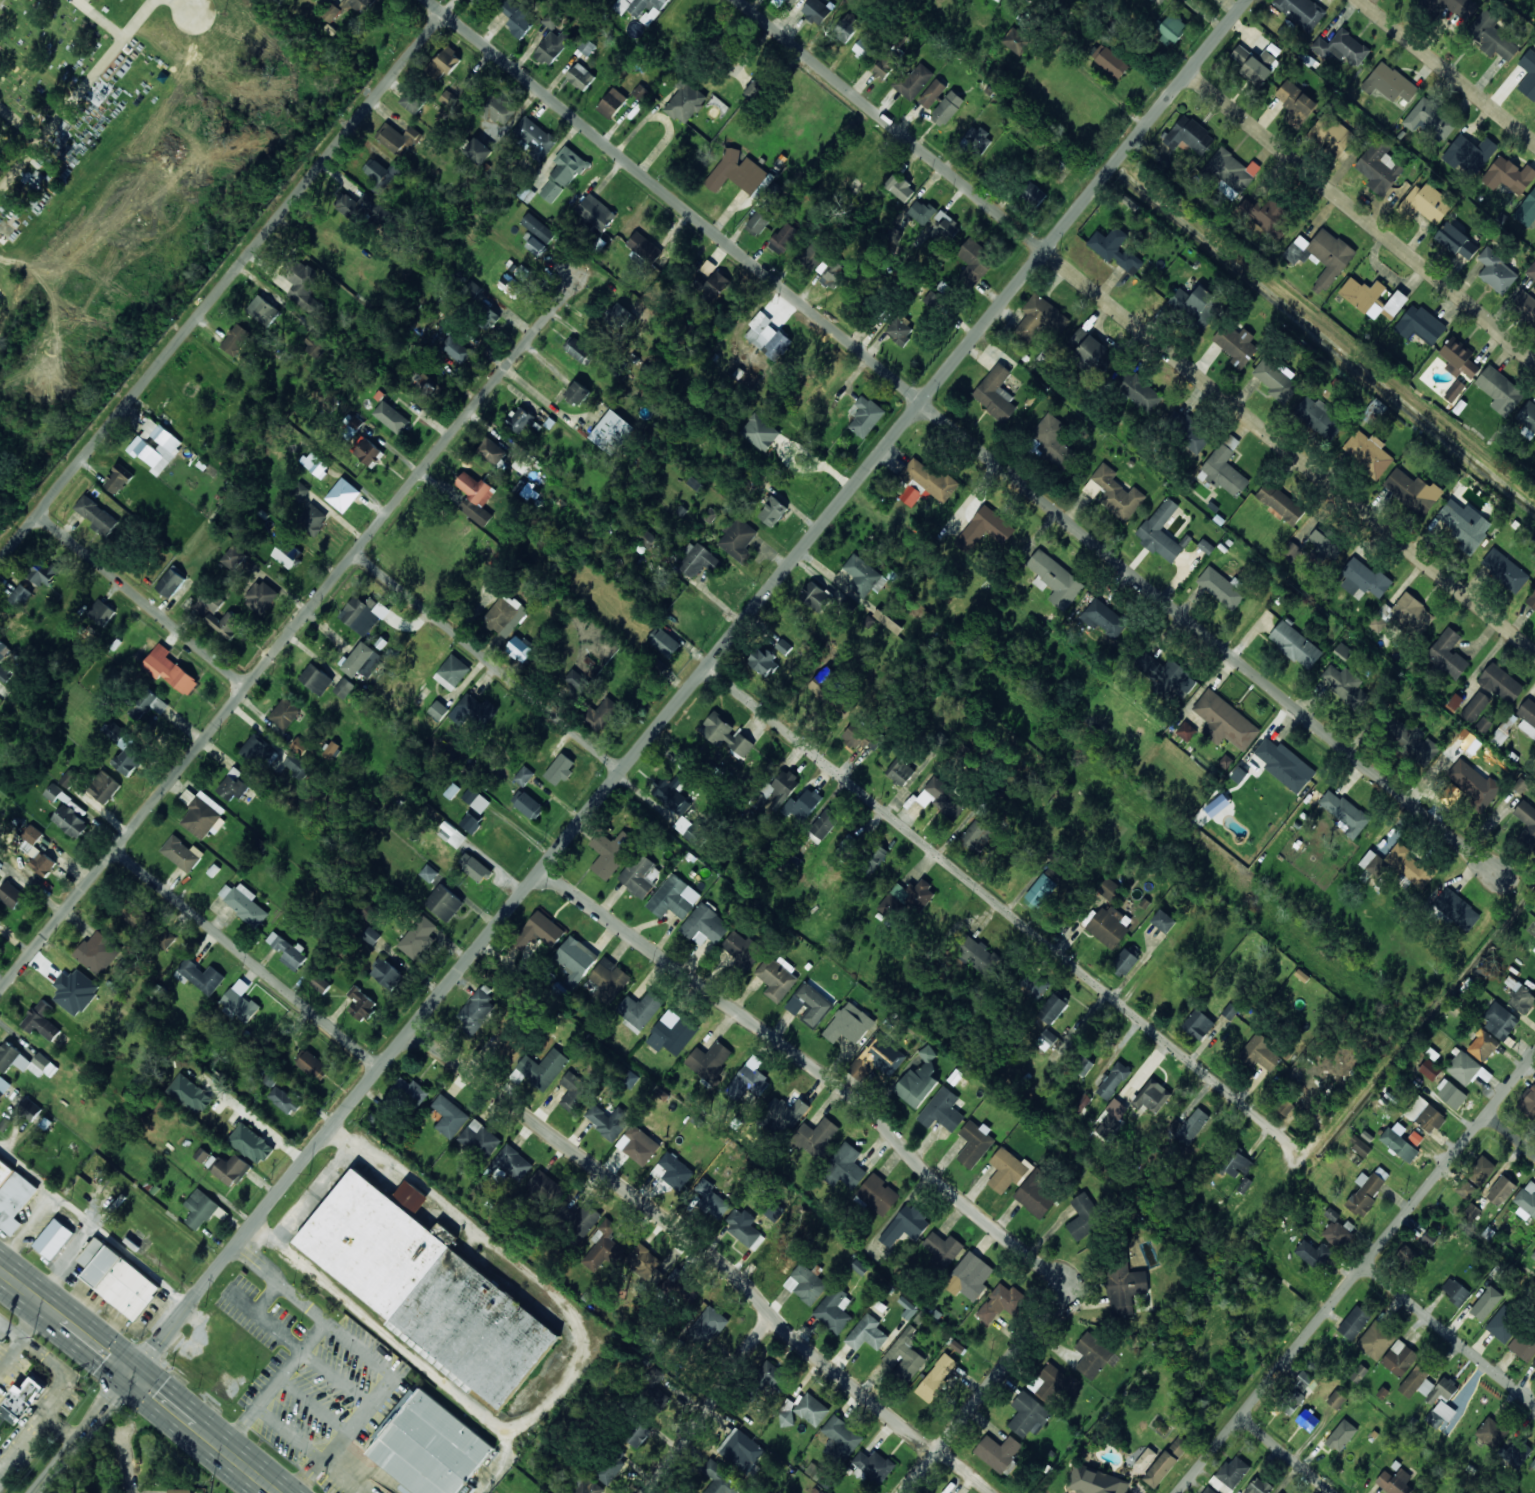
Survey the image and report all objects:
building: (998, 0)
building: (1150, 0)
road: (190, 1)
building: (282, 1)
building: (793, 1)
building: (361, 5)
building: (1452, 6)
building: (641, 8)
building: (816, 11)
building: (331, 12)
building: (1302, 12)
building: (517, 18)
road: (100, 19)
building: (552, 19)
building: (845, 28)
building: (1171, 30)
building: (1492, 36)
building: (1018, 44)
park: (140, 46)
building: (553, 47)
building: (587, 47)
building: (863, 48)
building: (1342, 48)
building: (1109, 60)
building: (445, 64)
building: (887, 64)
building: (1256, 65)
road: (1446, 70)
building: (1528, 74)
building: (581, 77)
building: (913, 81)
building: (1389, 83)
building: (755, 90)
building: (640, 92)
building: (933, 93)
road: (77, 94)
building: (1296, 100)
building: (414, 101)
building: (685, 102)
building: (612, 103)
building: (495, 107)
building: (947, 108)
building: (1430, 119)
road: (19, 125)
building: (1331, 133)
building: (1189, 135)
building: (535, 138)
building: (398, 139)
building: (979, 139)
building: (478, 151)
building: (1470, 155)
park: (52, 161)
building: (1379, 167)
building: (737, 172)
building: (383, 174)
building: (563, 174)
building: (1509, 175)
building: (900, 188)
building: (1034, 194)
building: (1426, 204)
building: (358, 206)
building: (1527, 211)
building: (596, 212)
building: (923, 212)
building: (1268, 215)
road: (1361, 217)
building: (758, 223)
building: (946, 227)
building: (538, 228)
building: (894, 235)
building: (784, 238)
building: (1457, 241)
building: (534, 243)
building: (644, 247)
building: (1116, 249)
building: (813, 255)
building: (1322, 256)
building: (976, 259)
building: (1531, 270)
building: (1497, 271)
building: (832, 273)
building: (511, 286)
building: (711, 287)
road: (223, 288)
building: (307, 290)
building: (1364, 296)
building: (1524, 304)
building: (1395, 305)
building: (1197, 306)
building: (263, 311)
building: (617, 315)
building: (487, 318)
building: (1041, 318)
building: (1421, 324)
road: (1136, 325)
building: (900, 330)
building: (760, 331)
building: (236, 340)
building: (1236, 344)
building: (316, 345)
building: (778, 346)
building: (1088, 347)
building: (456, 349)
building: (578, 349)
building: (1459, 359)
building: (1277, 380)
building: (427, 387)
building: (1138, 390)
building: (1455, 391)
building: (1500, 391)
building: (578, 393)
building: (996, 394)
building: (1528, 416)
building: (391, 417)
building: (866, 417)
building: (1320, 417)
building: (612, 432)
building: (760, 432)
building: (1191, 432)
building: (1054, 441)
road: (975, 445)
building: (156, 446)
building: (492, 451)
building: (367, 452)
building: (1368, 453)
building: (523, 462)
building: (316, 464)
building: (1225, 468)
building: (118, 479)
building: (928, 479)
building: (1413, 491)
building: (1117, 494)
building: (343, 495)
building: (910, 495)
building: (476, 498)
building: (1281, 503)
building: (772, 511)
building: (97, 516)
building: (312, 519)
building: (1464, 524)
building: (985, 529)
building: (1161, 532)
building: (646, 537)
building: (738, 540)
building: (1324, 544)
building: (1291, 551)
building: (287, 554)
building: (235, 558)
building: (697, 560)
building: (1505, 571)
building: (44, 572)
building: (862, 576)
building: (1055, 580)
building: (1364, 580)
building: (170, 583)
building: (1221, 588)
building: (20, 596)
building: (815, 596)
building: (262, 598)
building: (1532, 598)
road: (141, 600)
building: (101, 612)
building: (363, 614)
building: (504, 614)
building: (1405, 615)
building: (1103, 618)
building: (225, 624)
road: (289, 631)
building: (666, 643)
building: (1295, 645)
building: (784, 647)
building: (3, 650)
building: (1343, 651)
building: (1448, 654)
building: (363, 661)
road: (489, 661)
building: (764, 663)
building: (169, 670)
building: (5, 673)
building: (452, 673)
building: (1167, 676)
building: (316, 679)
building: (824, 682)
building: (1501, 683)
building: (575, 684)
building: (1346, 686)
building: (345, 688)
building: (146, 704)
building: (1475, 708)
building: (439, 710)
building: (473, 711)
building: (285, 714)
building: (601, 715)
building: (1528, 716)
building: (1225, 721)
building: (1483, 725)
building: (1186, 731)
building: (726, 735)
building: (861, 737)
building: (1414, 739)
building: (300, 746)
road: (643, 746)
building: (1462, 746)
building: (257, 749)
building: (127, 750)
building: (297, 765)
building: (1285, 765)
building: (560, 769)
building: (900, 772)
building: (524, 776)
building: (69, 779)
building: (1474, 783)
building: (1520, 785)
building: (232, 786)
building: (104, 787)
building: (782, 788)
building: (452, 791)
building: (675, 795)
building: (942, 798)
building: (476, 800)
building: (528, 805)
building: (803, 805)
building: (1211, 809)
building: (1345, 813)
building: (202, 814)
building: (1527, 818)
building: (71, 821)
building: (471, 823)
building: (824, 825)
building: (689, 828)
building: (452, 835)
building: (976, 837)
building: (848, 847)
building: (37, 852)
building: (610, 852)
building: (182, 853)
building: (875, 855)
road: (1494, 860)
building: (1374, 864)
building: (1409, 866)
building: (477, 870)
building: (429, 873)
building: (640, 875)
road: (992, 885)
building: (1111, 890)
building: (1041, 892)
building: (11, 895)
building: (907, 897)
building: (674, 898)
building: (444, 902)
building: (244, 903)
building: (1457, 909)
building: (369, 913)
building: (1164, 921)
building: (1, 924)
building: (705, 925)
building: (1110, 926)
building: (541, 934)
building: (371, 936)
building: (419, 938)
building: (166, 940)
building: (742, 949)
building: (288, 950)
building: (98, 953)
building: (975, 953)
road: (247, 958)
building: (575, 960)
building: (1125, 963)
building: (1484, 970)
building: (387, 974)
building: (201, 976)
building: (610, 977)
building: (777, 978)
building: (320, 984)
building: (1038, 986)
building: (1520, 997)
building: (240, 1002)
building: (361, 1004)
building: (809, 1005)
building: (1053, 1009)
building: (477, 1010)
building: (640, 1010)
building: (1230, 1012)
building: (41, 1021)
building: (1500, 1021)
building: (1198, 1024)
building: (849, 1025)
building: (672, 1036)
building: (1046, 1040)
building: (1483, 1046)
building: (512, 1049)
building: (1260, 1054)
building: (878, 1057)
building: (25, 1061)
building: (710, 1061)
building: (313, 1065)
building: (1084, 1066)
building: (1463, 1067)
building: (543, 1069)
building: (1430, 1070)
building: (1485, 1075)
building: (270, 1077)
building: (629, 1078)
building: (748, 1080)
building: (919, 1080)
building: (1113, 1081)
building: (4, 1087)
building: (412, 1092)
building: (574, 1092)
building: (1451, 1093)
building: (190, 1094)
building: (1152, 1097)
building: (284, 1100)
building: (1082, 1102)
building: (1528, 1102)
building: (1285, 1107)
building: (29, 1109)
building: (942, 1110)
building: (787, 1111)
building: (1425, 1115)
building: (450, 1117)
building: (1110, 1118)
building: (608, 1120)
building: (1189, 1126)
road: (1511, 1134)
building: (816, 1136)
building: (479, 1140)
building: (974, 1143)
building: (251, 1144)
building: (638, 1145)
building: (1399, 1145)
road: (906, 1147)
building: (1361, 1148)
building: (511, 1163)
building: (1235, 1164)
building: (847, 1165)
building: (232, 1170)
building: (1007, 1170)
building: (1481, 1170)
building: (673, 1171)
building: (5, 1172)
building: (545, 1187)
building: (1501, 1190)
building: (1468, 1192)
building: (1365, 1193)
building: (878, 1194)
building: (1037, 1195)
building: (412, 1196)
building: (709, 1197)
building: (1527, 1198)
building: (15, 1202)
building: (200, 1209)
building: (1472, 1212)
building: (1084, 1216)
building: (585, 1219)
building: (905, 1226)
building: (743, 1228)
building: (1430, 1238)
building: (54, 1239)
building: (604, 1246)
building: (371, 1248)
building: (944, 1249)
building: (1313, 1253)
building: (1407, 1254)
building: (1533, 1256)
road: (706, 1257)
building: (644, 1262)
road: (1356, 1274)
building: (118, 1279)
building: (971, 1279)
building: (806, 1284)
building: (1124, 1288)
building: (1455, 1291)
building: (1001, 1303)
building: (1487, 1303)
building: (835, 1310)
road: (31, 1321)
building: (1354, 1323)
building: (1504, 1324)
building: (709, 1325)
road: (1450, 1333)
building: (867, 1334)
building: (1376, 1340)
building: (1524, 1345)
building: (905, 1355)
building: (1093, 1355)
building: (1400, 1358)
building: (1534, 1363)
building: (1360, 1373)
building: (772, 1376)
building: (936, 1379)
road: (136, 1381)
building: (1054, 1383)
building: (1417, 1383)
building: (1303, 1386)
building: (654, 1387)
road: (58, 1389)
building: (1442, 1390)
building: (1336, 1400)
building: (21, 1401)
road: (709, 1406)
building: (812, 1410)
building: (787, 1415)
building: (1029, 1415)
building: (1441, 1415)
building: (1308, 1420)
road: (60, 1428)
building: (1491, 1433)
building: (638, 1434)
building: (842, 1436)
building: (1341, 1436)
road: (118, 1448)
building: (432, 1449)
building: (741, 1450)
building: (998, 1452)
building: (1515, 1452)
road: (1290, 1454)
building: (1146, 1459)
building: (1167, 1462)
building: (1533, 1464)
building: (612, 1466)
building: (873, 1467)
building: (1230, 1474)
building: (721, 1480)
building: (1094, 1481)
building: (1397, 1482)
building: (587, 1484)
building: (1258, 1486)
building: (468, 1489)
building: (1209, 1490)
building: (178, 1491)
building: (822, 1492)

